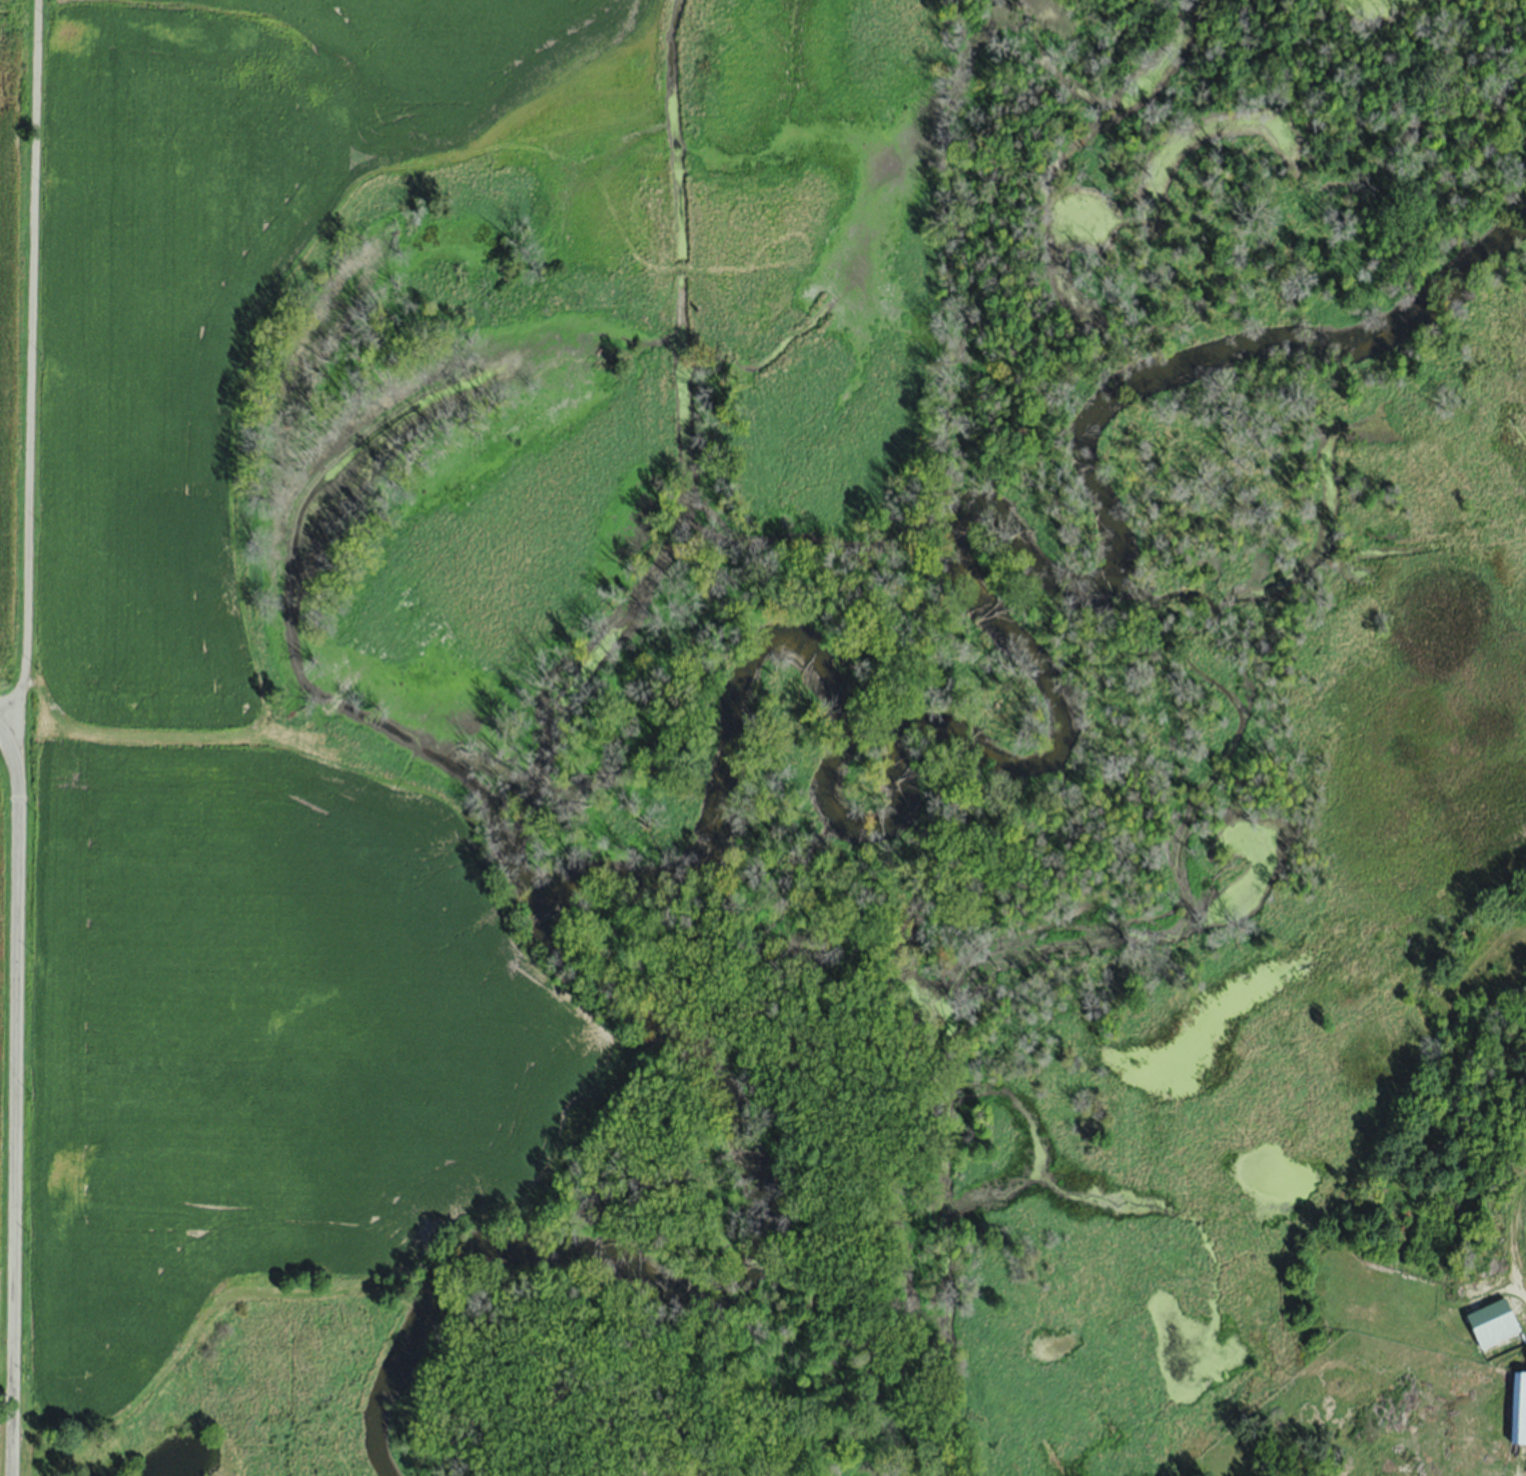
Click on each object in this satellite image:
road: (21, 344)
river: (780, 685)
road: (4, 687)
road: (10, 1082)
building: (1520, 1407)

